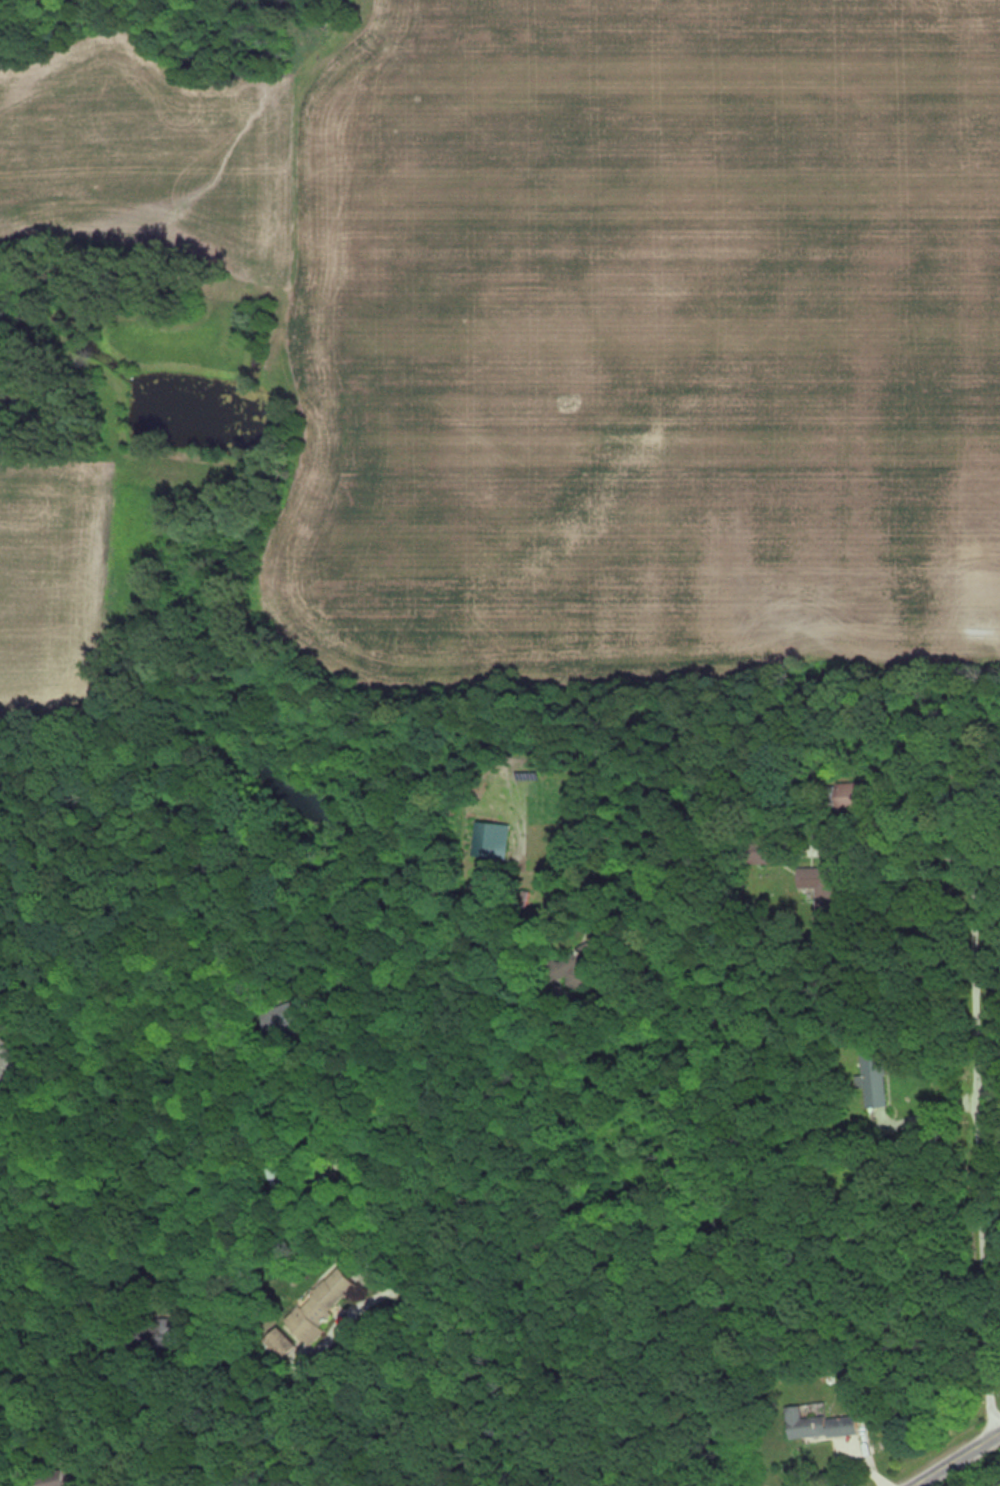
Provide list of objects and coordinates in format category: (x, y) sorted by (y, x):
building: (845, 796)
road: (913, 851)
building: (761, 853)
building: (822, 893)
building: (871, 1079)
road: (930, 1111)
road: (988, 1151)
road: (711, 1216)
road: (425, 1289)
building: (318, 1306)
road: (116, 1419)
building: (817, 1424)
road: (959, 1459)
building: (51, 1482)

